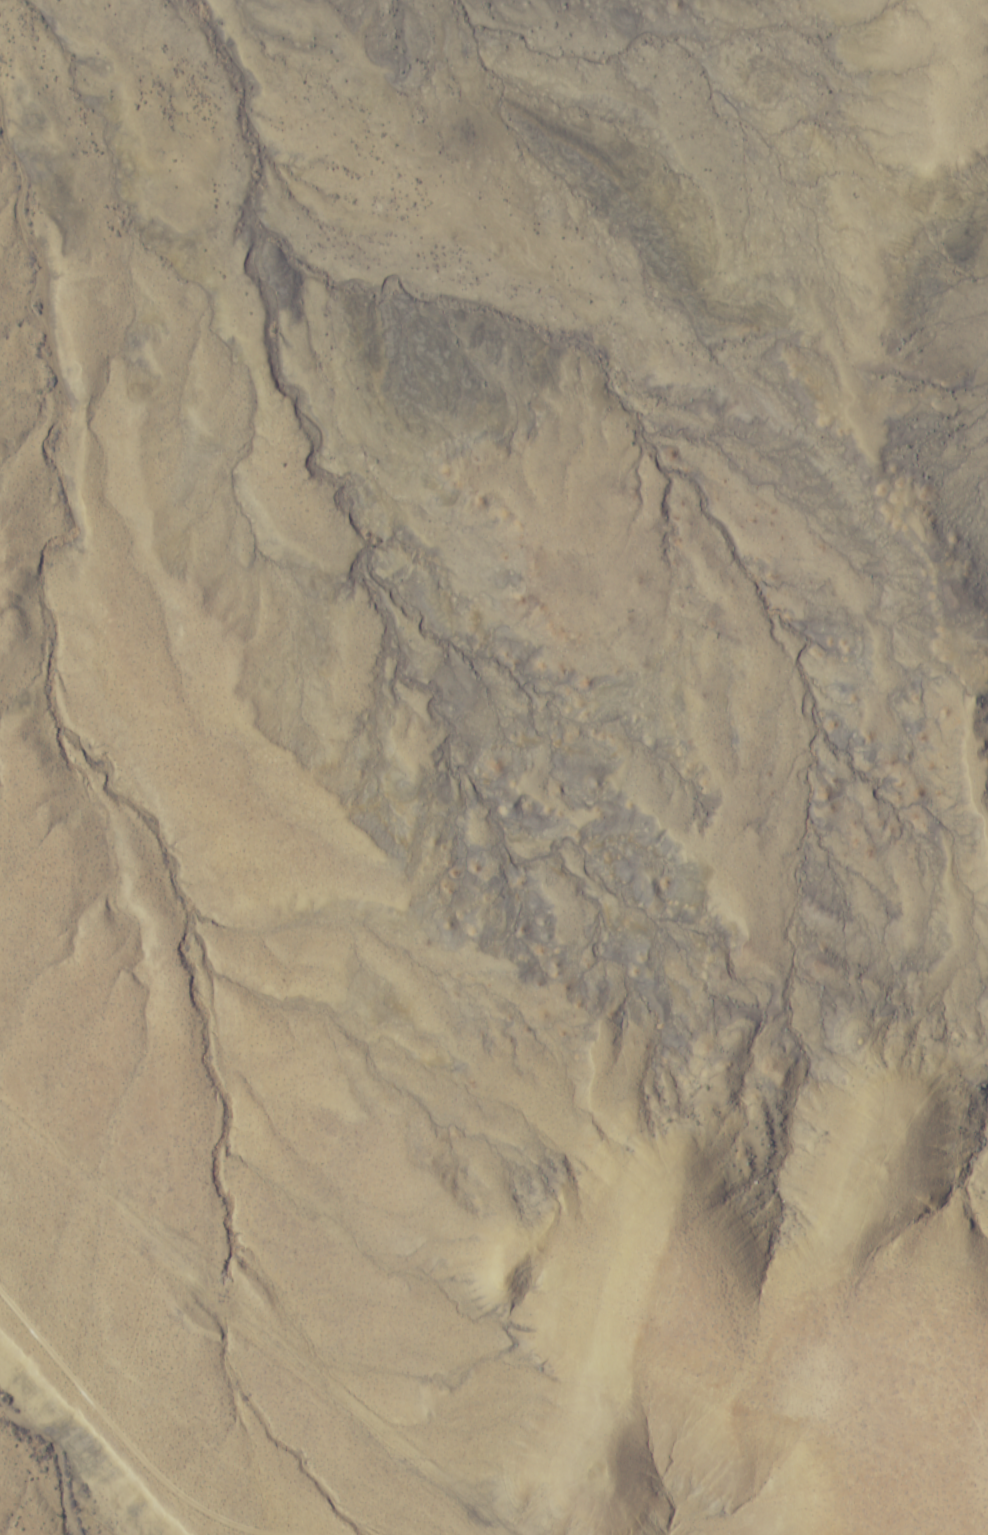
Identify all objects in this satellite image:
road: (122, 1435)

